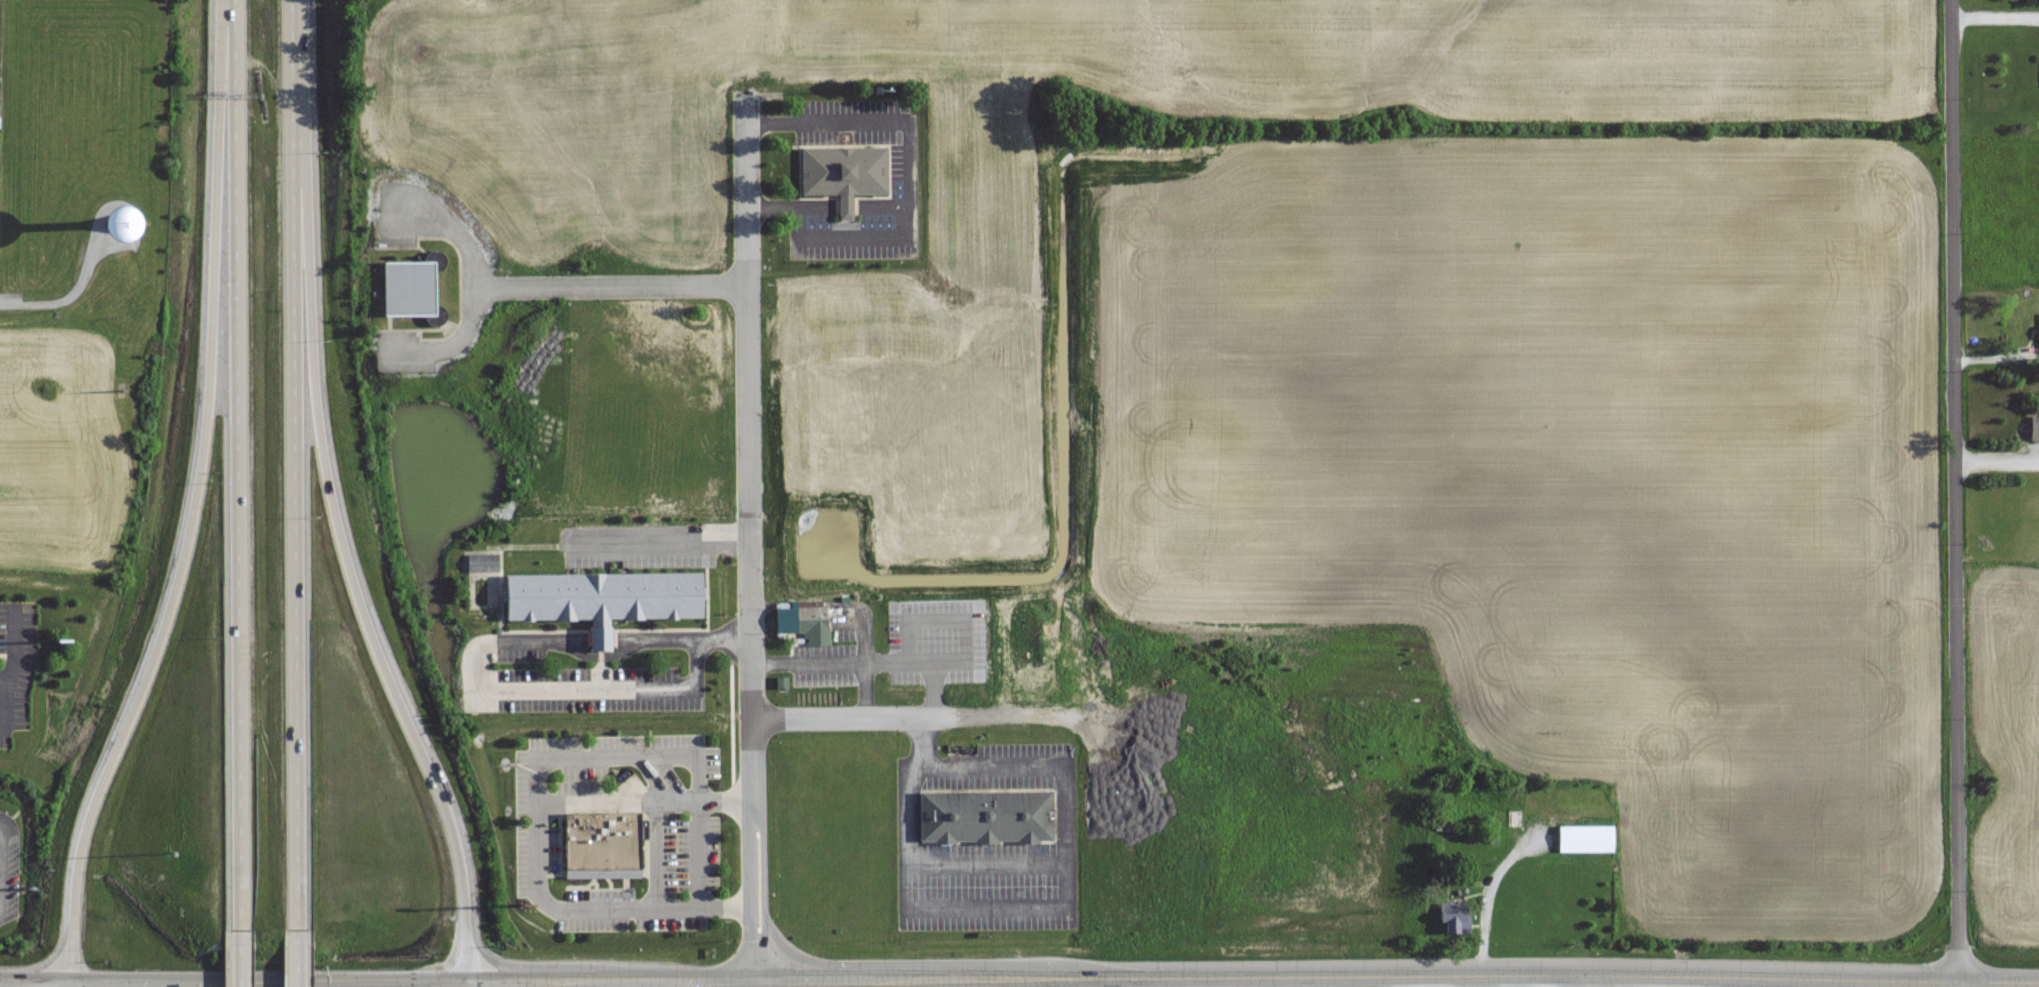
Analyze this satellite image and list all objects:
road: (1996, 19)
building: (843, 173)
road: (906, 191)
water tower: (117, 224)
road: (611, 286)
road: (471, 287)
building: (408, 288)
road: (76, 291)
road: (10, 301)
building: (2034, 425)
road: (238, 460)
road: (299, 462)
road: (1958, 492)
road: (194, 500)
road: (346, 527)
road: (751, 543)
road: (665, 544)
building: (482, 562)
building: (602, 598)
building: (811, 618)
road: (660, 640)
road: (13, 646)
road: (866, 662)
road: (863, 690)
road: (554, 691)
road: (896, 716)
road: (610, 756)
building: (986, 815)
building: (1572, 838)
building: (601, 844)
road: (537, 854)
road: (982, 864)
road: (1063, 894)
road: (241, 954)
road: (301, 956)
road: (1253, 979)
road: (34, 982)
road: (268, 982)
road: (1586, 982)
road: (68, 984)
road: (468, 985)

